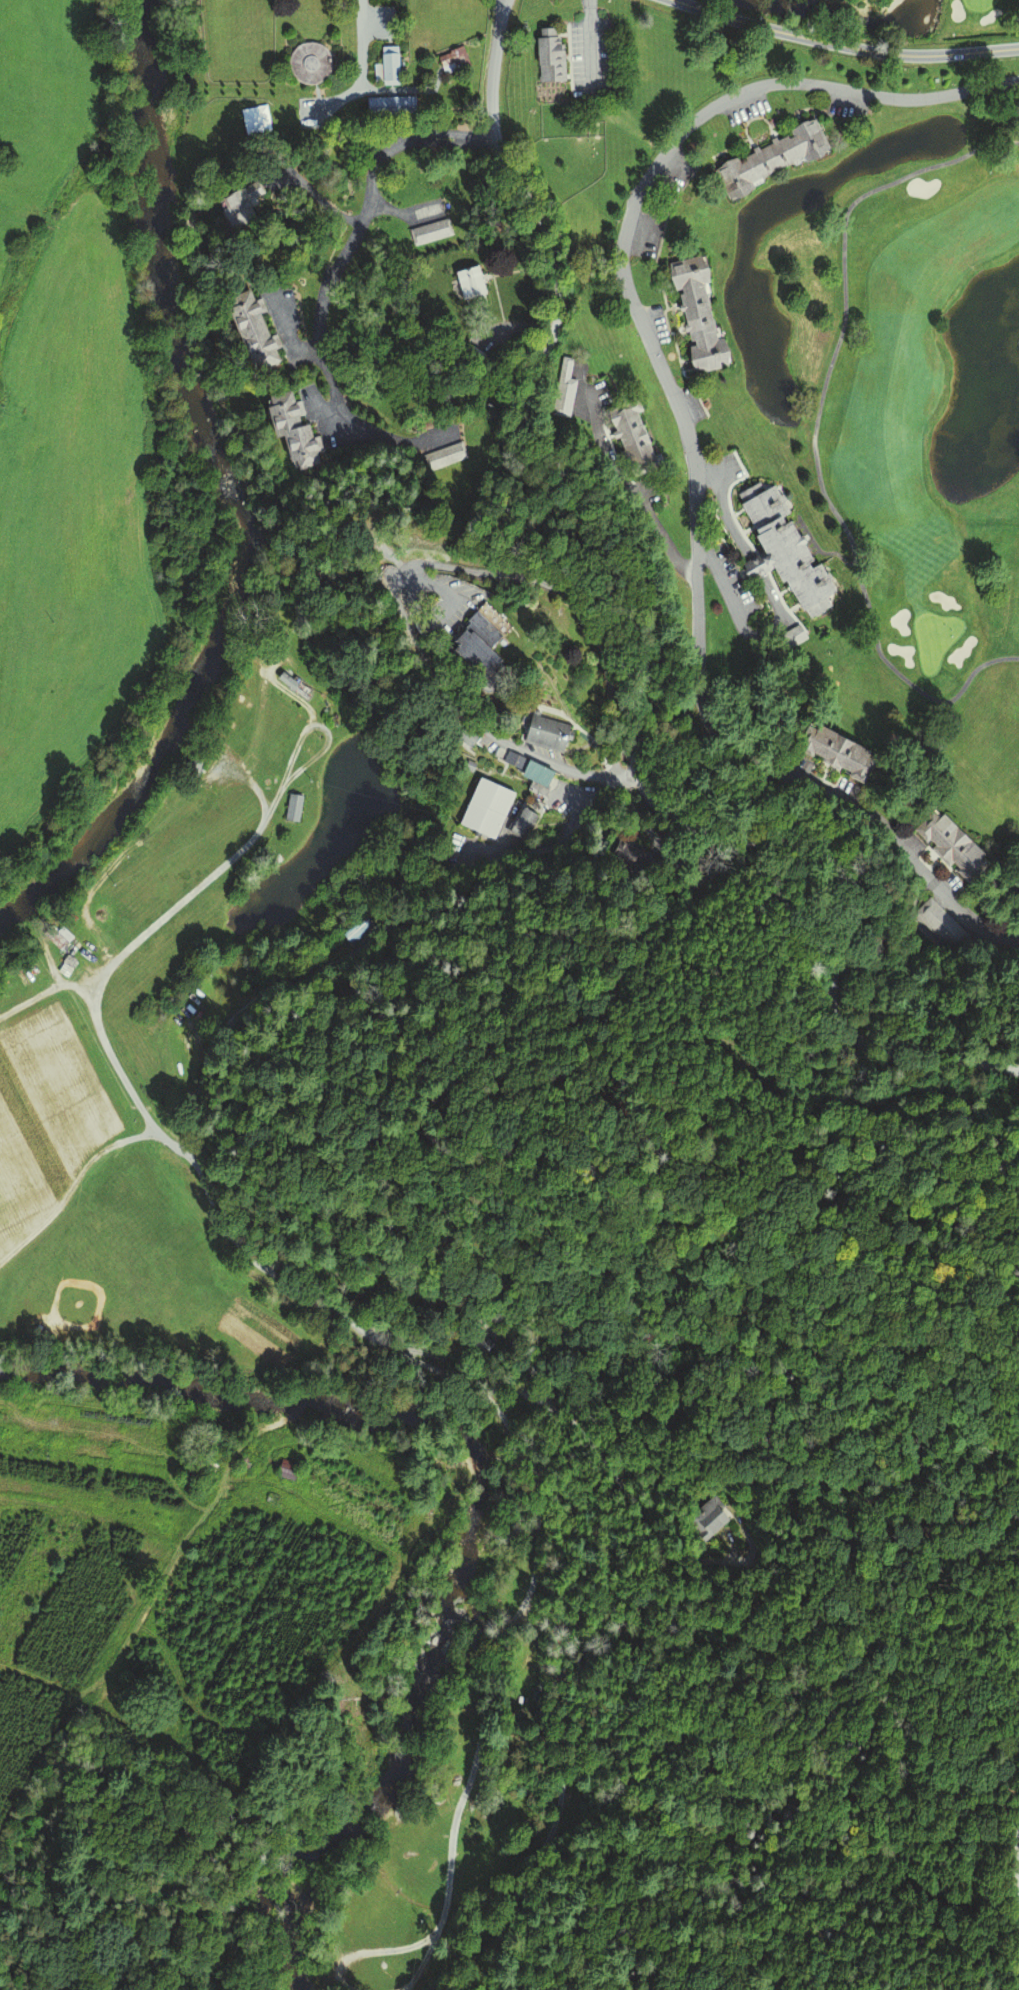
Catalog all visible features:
road: (501, 5)
river: (852, 12)
road: (361, 42)
road: (845, 45)
building: (547, 54)
building: (451, 59)
building: (308, 63)
building: (386, 67)
road: (492, 79)
building: (390, 106)
building: (766, 160)
building: (238, 205)
road: (358, 230)
building: (430, 232)
building: (469, 286)
building: (696, 314)
building: (248, 331)
building: (561, 390)
park: (923, 397)
building: (286, 425)
road: (814, 427)
road: (685, 429)
building: (629, 439)
building: (445, 456)
river: (234, 494)
building: (782, 553)
road: (487, 572)
road: (776, 601)
building: (481, 629)
building: (792, 637)
building: (473, 659)
building: (293, 685)
road: (633, 728)
building: (542, 734)
building: (467, 737)
building: (834, 753)
building: (198, 757)
road: (557, 767)
building: (527, 772)
building: (295, 808)
building: (485, 809)
building: (521, 823)
building: (947, 844)
building: (619, 851)
building: (356, 930)
building: (52, 937)
building: (66, 966)
road: (858, 1106)
road: (325, 1303)
building: (477, 1341)
road: (301, 1411)
building: (288, 1470)
building: (707, 1519)
road: (1016, 1846)
road: (1017, 1867)
road: (1015, 1882)

